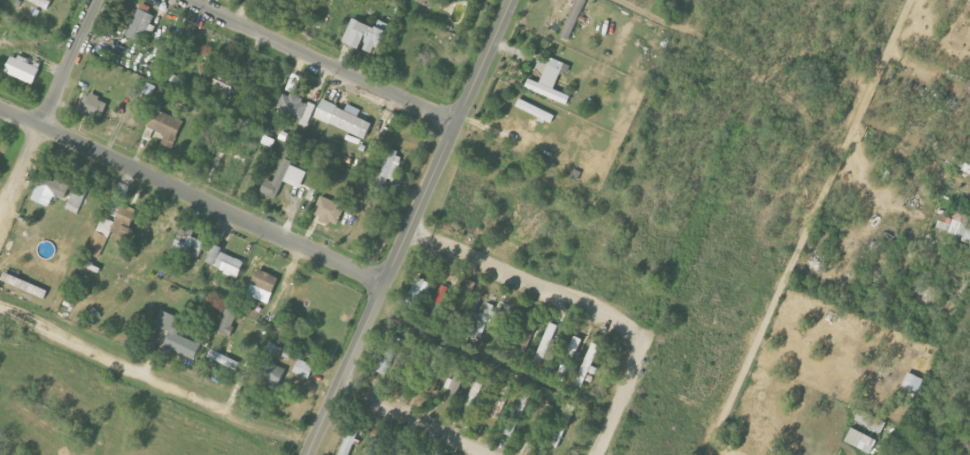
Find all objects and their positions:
building: (42, 3)
building: (434, 3)
building: (573, 18)
building: (141, 23)
building: (366, 35)
road: (320, 62)
building: (22, 69)
building: (550, 81)
building: (225, 82)
building: (149, 89)
road: (50, 103)
building: (94, 105)
building: (296, 108)
building: (535, 111)
building: (343, 118)
building: (166, 127)
building: (391, 165)
building: (285, 177)
building: (50, 190)
road: (192, 196)
building: (77, 199)
road: (1, 206)
building: (328, 210)
road: (813, 216)
building: (954, 226)
road: (410, 227)
building: (112, 231)
building: (187, 244)
building: (225, 262)
road: (527, 284)
building: (263, 286)
building: (419, 288)
building: (485, 320)
building: (227, 322)
building: (173, 334)
building: (546, 342)
building: (273, 350)
building: (389, 355)
building: (224, 360)
building: (586, 364)
building: (434, 368)
building: (303, 369)
building: (271, 374)
road: (153, 381)
building: (913, 382)
building: (454, 386)
road: (622, 399)
building: (501, 401)
building: (516, 412)
building: (871, 421)
road: (410, 422)
building: (861, 441)
building: (348, 445)

